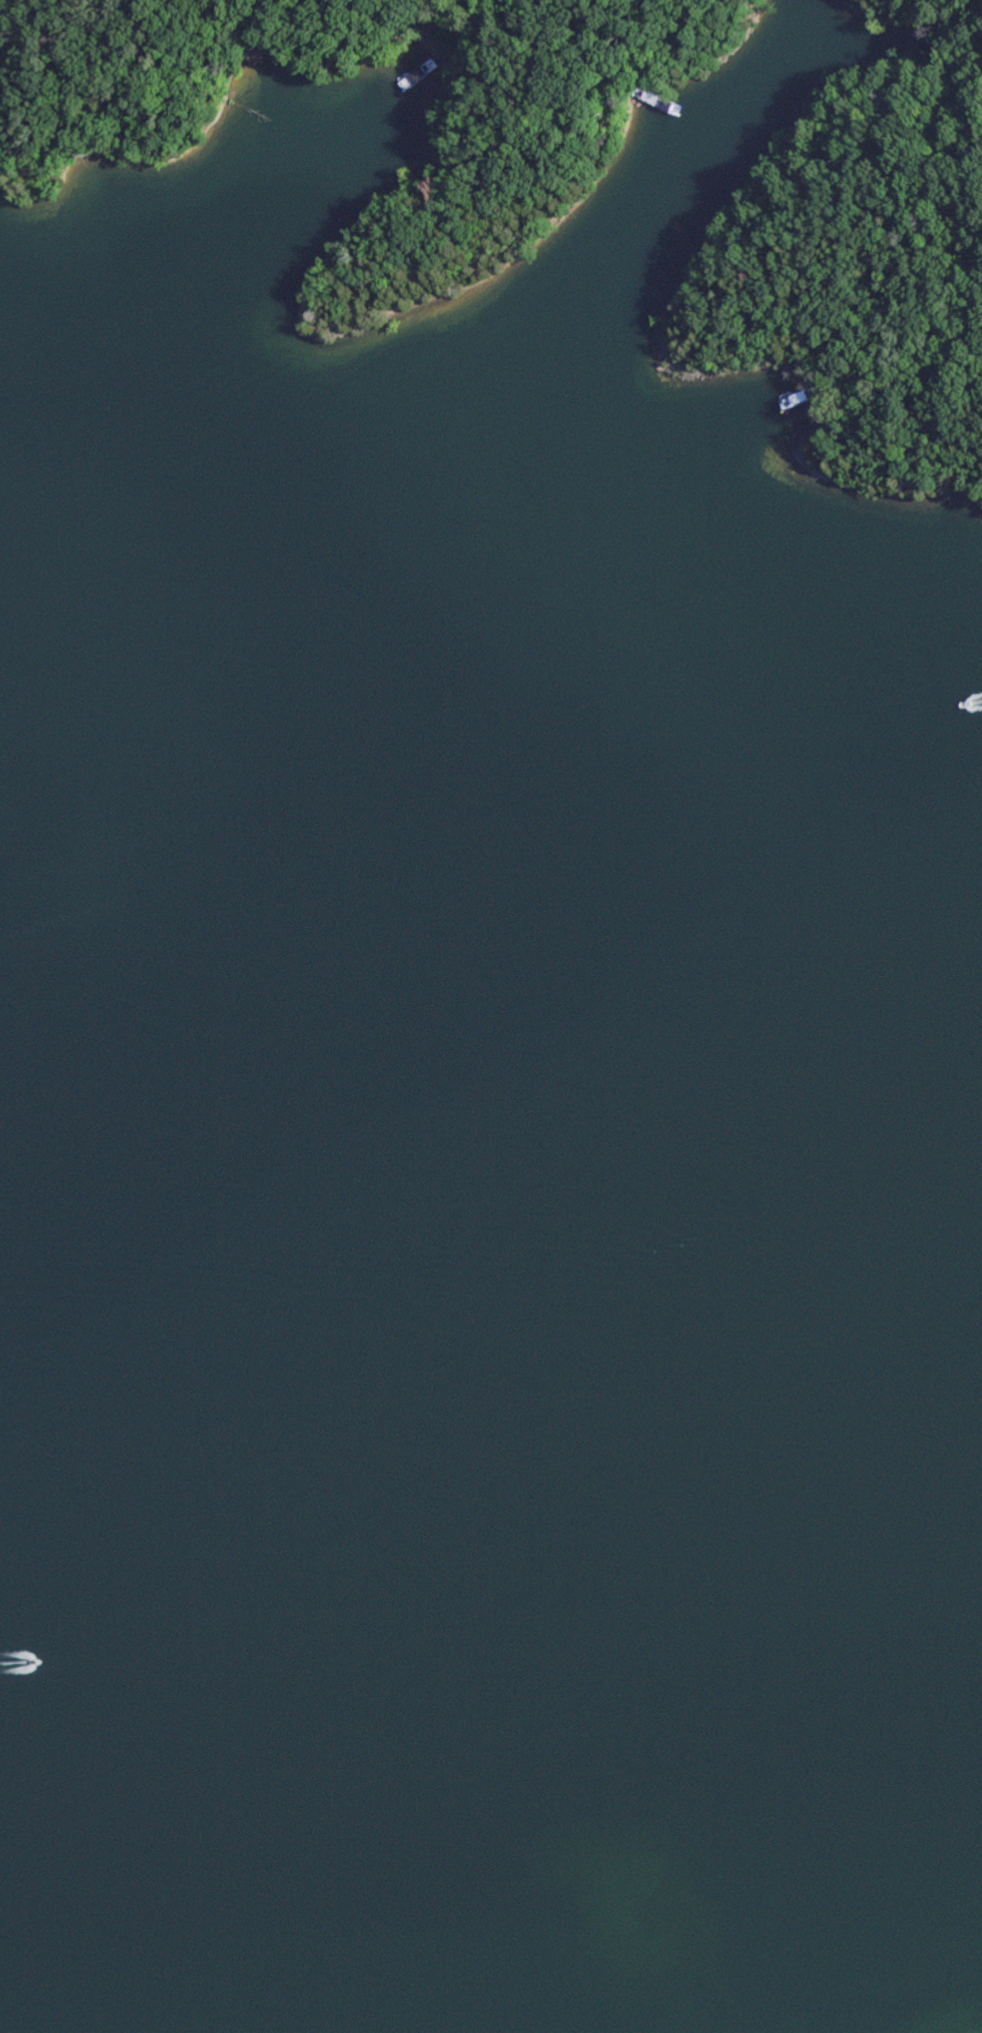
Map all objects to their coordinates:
river: (491, 1498)

